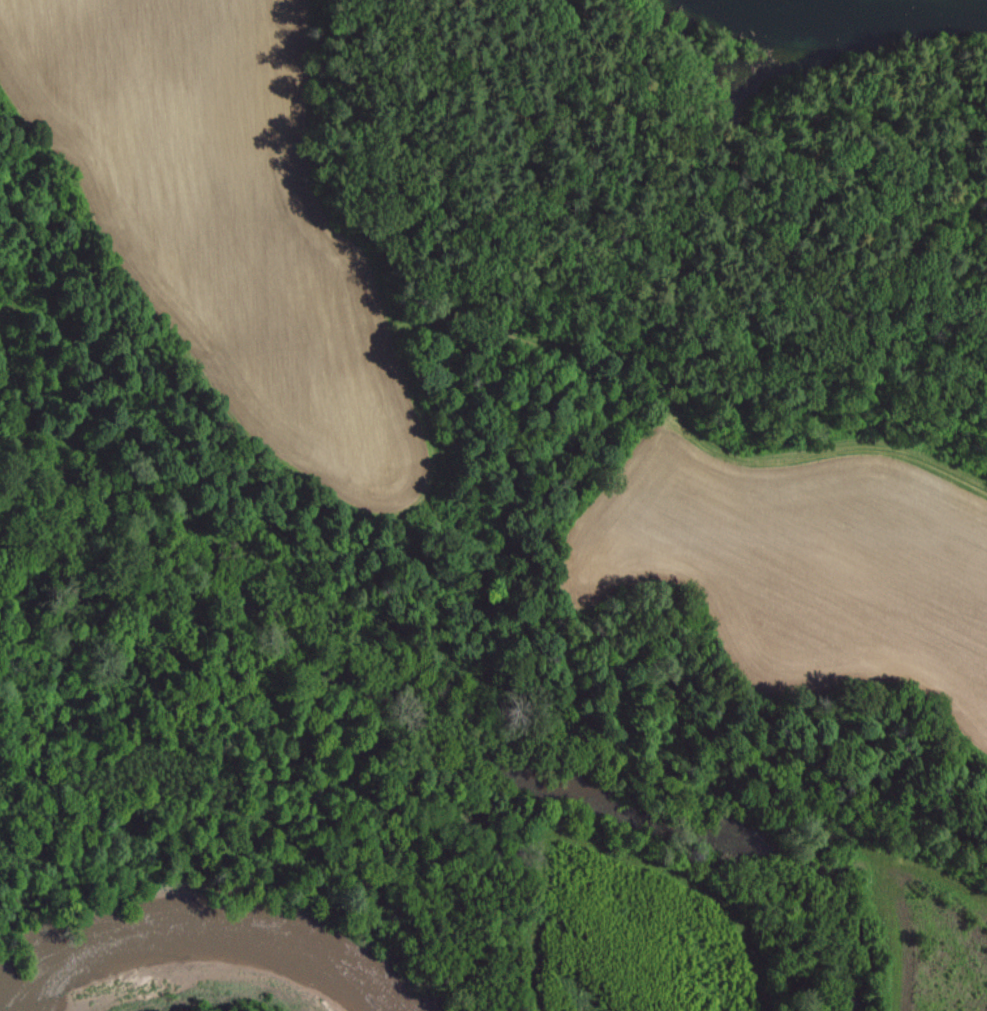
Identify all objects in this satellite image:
river: (202, 946)

